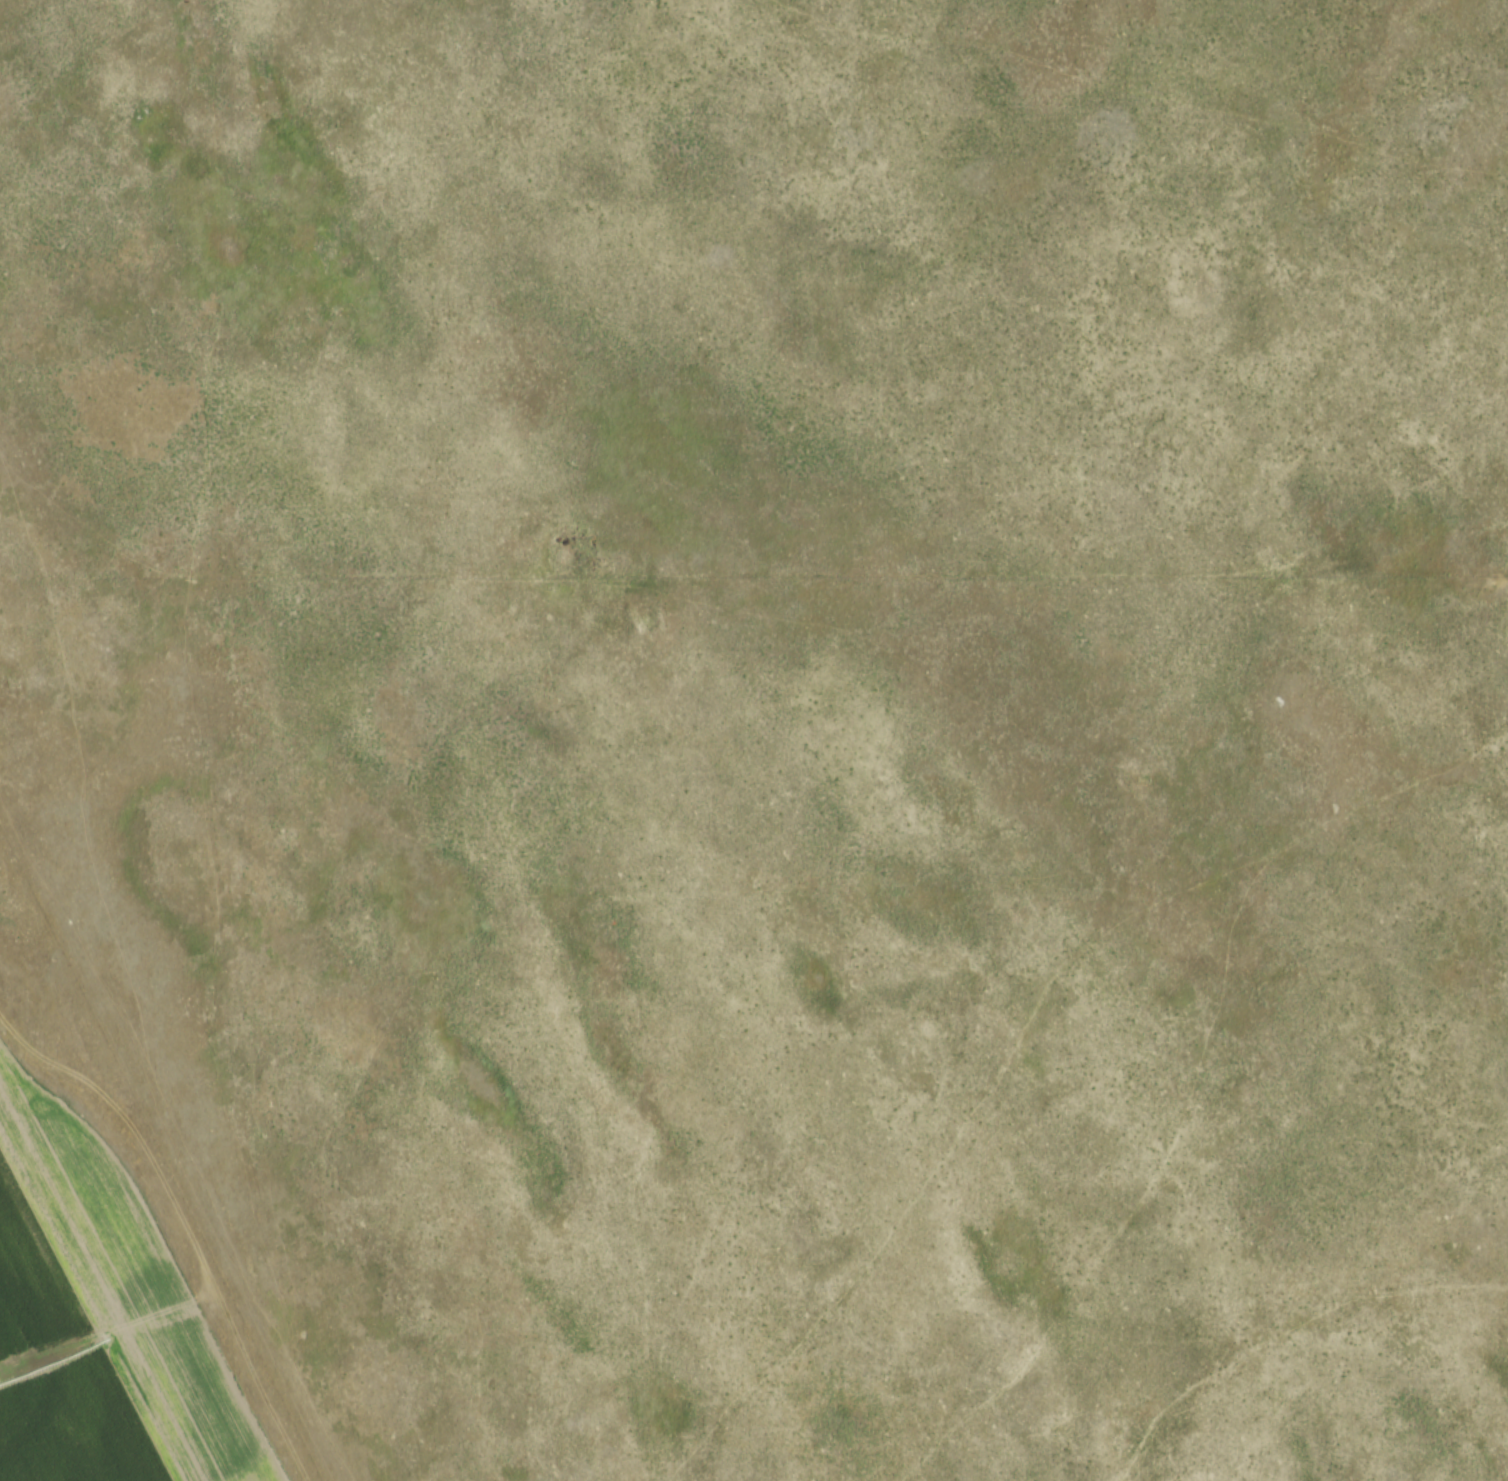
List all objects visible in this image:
crop: (103, 1319)

